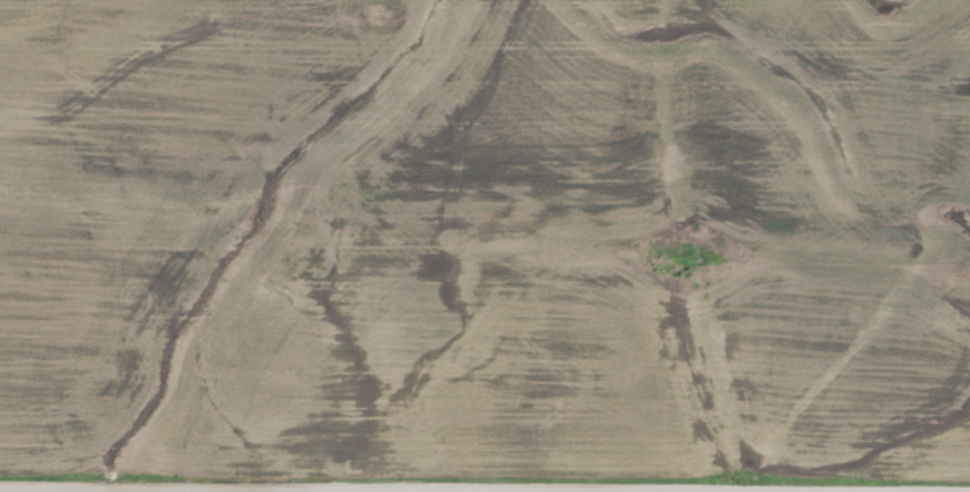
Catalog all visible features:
road: (323, 490)

